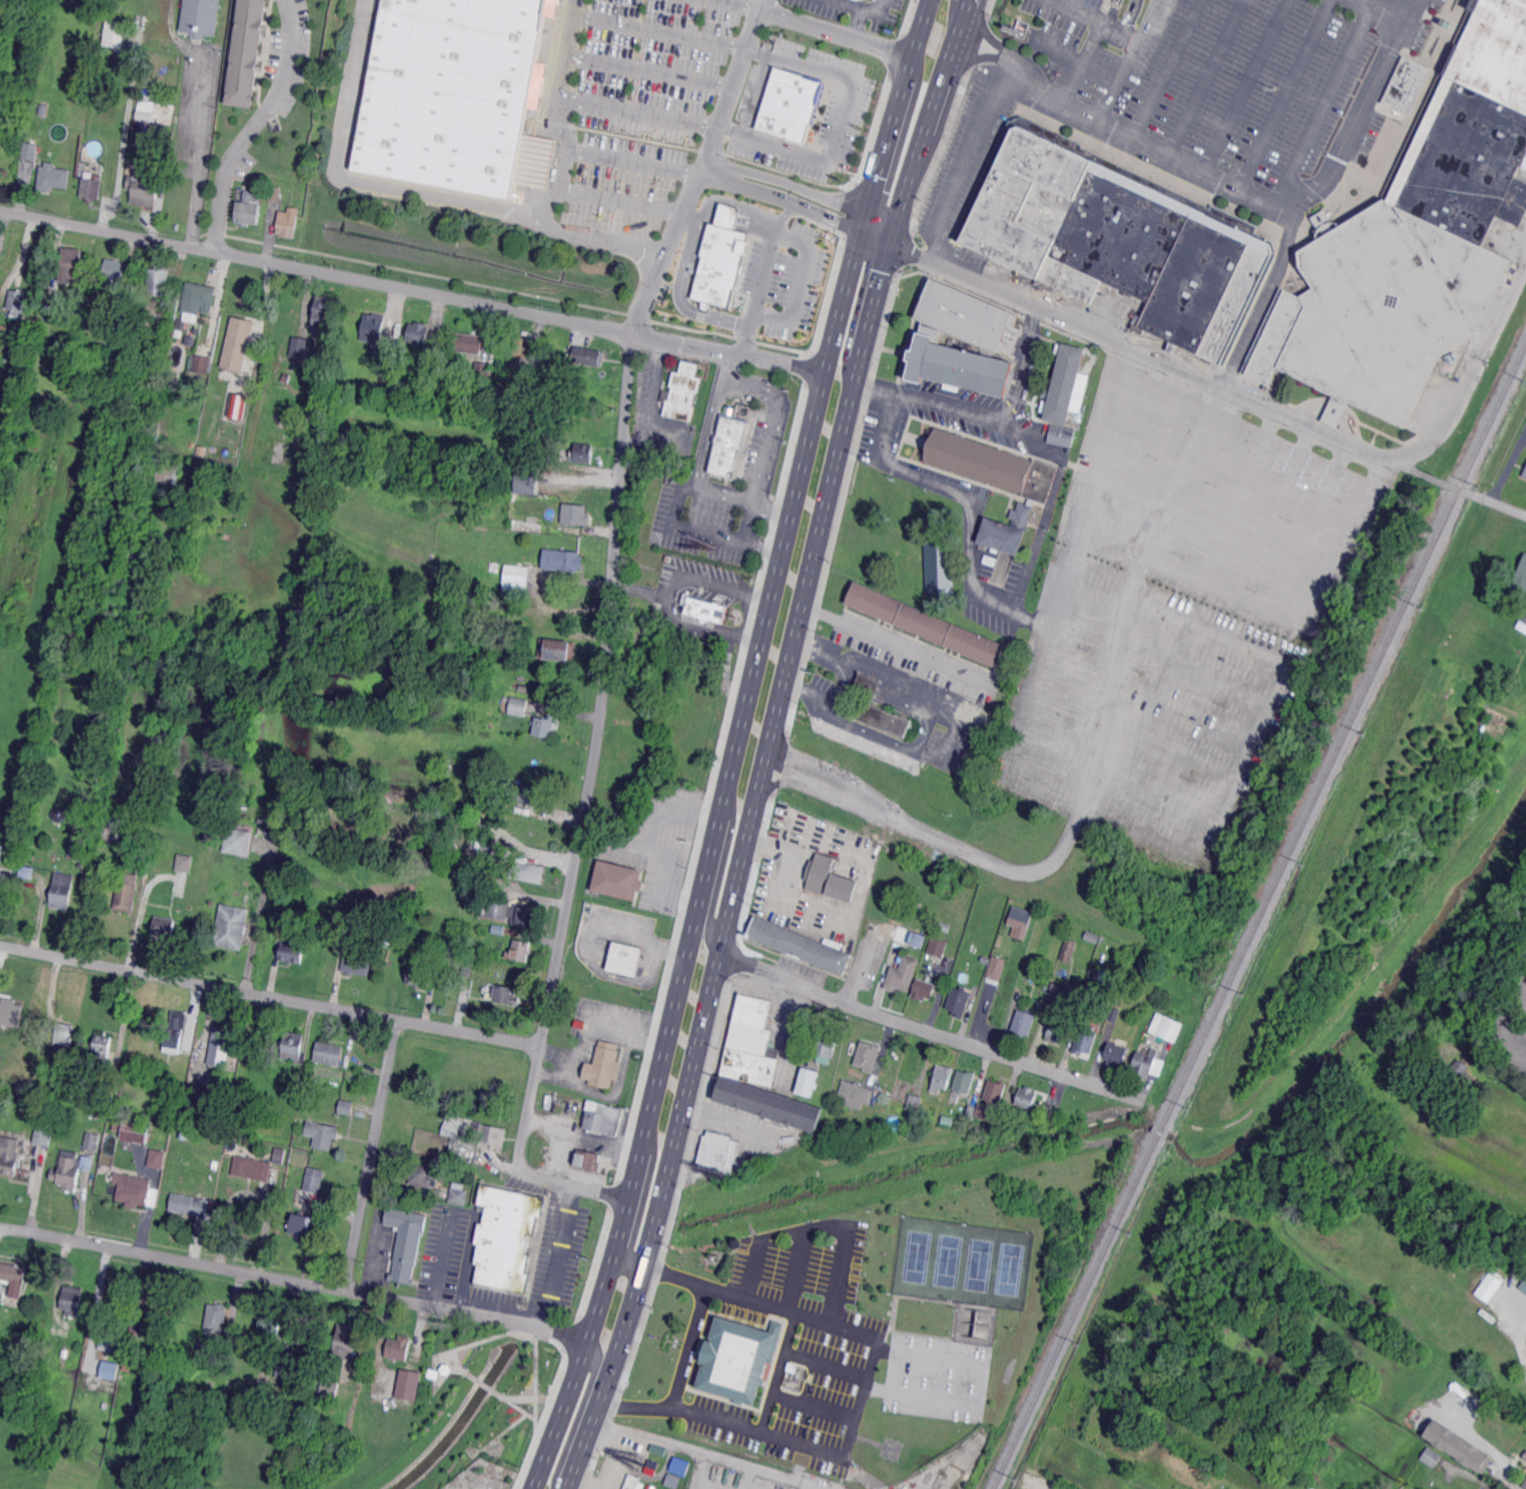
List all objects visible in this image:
road: (738, 4)
road: (761, 4)
road: (866, 9)
road: (1384, 10)
building: (200, 18)
road: (1131, 18)
road: (1092, 21)
road: (857, 23)
building: (1449, 25)
building: (1018, 27)
road: (660, 31)
building: (114, 35)
road: (1059, 49)
building: (245, 52)
road: (988, 58)
road: (1129, 60)
road: (1082, 64)
road: (1167, 69)
road: (649, 70)
road: (1207, 78)
building: (1406, 85)
road: (1245, 86)
road: (1283, 94)
building: (455, 96)
road: (727, 99)
road: (1323, 103)
building: (98, 104)
building: (790, 105)
building: (146, 110)
road: (638, 110)
building: (43, 111)
road: (841, 122)
road: (252, 124)
road: (923, 142)
road: (193, 150)
building: (31, 151)
road: (961, 158)
road: (632, 162)
building: (1524, 165)
road: (558, 175)
road: (874, 175)
building: (53, 177)
road: (351, 180)
building: (92, 188)
road: (803, 188)
building: (143, 191)
building: (274, 195)
road: (1257, 198)
road: (781, 199)
road: (620, 202)
building: (248, 209)
traffic signals: (864, 212)
road: (779, 214)
building: (287, 224)
traffic signals: (897, 226)
traffic signals: (860, 232)
building: (1118, 238)
building: (1415, 238)
traffic signals: (891, 245)
building: (720, 258)
building: (70, 265)
building: (113, 271)
road: (797, 279)
building: (157, 281)
road: (410, 290)
road: (757, 291)
road: (674, 295)
road: (1264, 297)
building: (197, 300)
building: (17, 304)
building: (324, 311)
building: (161, 312)
building: (33, 322)
building: (180, 325)
building: (373, 327)
building: (196, 331)
building: (421, 334)
building: (989, 336)
building: (469, 343)
building: (237, 344)
building: (522, 346)
building: (18, 348)
building: (300, 351)
building: (586, 356)
road: (723, 360)
building: (550, 363)
road: (1020, 363)
building: (202, 364)
building: (251, 366)
building: (1022, 368)
building: (386, 369)
road: (1470, 369)
building: (526, 371)
building: (483, 372)
road: (1193, 373)
building: (284, 378)
building: (518, 382)
road: (874, 382)
building: (1065, 385)
building: (185, 387)
building: (1020, 392)
building: (681, 393)
building: (245, 398)
building: (285, 399)
building: (3, 402)
road: (950, 404)
building: (33, 412)
railway: (1493, 413)
building: (9, 415)
road: (706, 426)
building: (1062, 434)
road: (1028, 435)
building: (275, 445)
building: (728, 445)
building: (581, 453)
building: (1, 457)
building: (540, 462)
building: (993, 465)
building: (165, 472)
building: (1525, 474)
road: (582, 479)
building: (527, 483)
railway: (1458, 488)
road: (742, 495)
road: (1237, 495)
road: (771, 502)
road: (1272, 509)
building: (574, 515)
building: (513, 523)
road: (1309, 526)
building: (549, 528)
road: (704, 528)
building: (1007, 531)
road: (969, 538)
building: (563, 560)
building: (938, 566)
building: (495, 567)
building: (515, 577)
building: (1519, 583)
building: (297, 587)
building: (707, 610)
parking lot: (1182, 614)
building: (927, 620)
road: (1308, 623)
building: (1522, 623)
road: (893, 642)
building: (557, 649)
building: (497, 653)
building: (508, 655)
building: (514, 706)
building: (877, 708)
building: (545, 726)
road: (728, 766)
road: (594, 767)
road: (1095, 773)
building: (529, 795)
building: (85, 825)
building: (259, 827)
building: (114, 828)
building: (77, 833)
building: (239, 841)
building: (78, 850)
building: (1, 852)
building: (185, 863)
building: (530, 871)
building: (830, 879)
building: (621, 881)
building: (42, 888)
building: (62, 889)
road: (733, 891)
building: (127, 892)
building: (514, 913)
building: (1021, 921)
building: (945, 925)
building: (232, 927)
building: (162, 929)
building: (499, 929)
building: (941, 934)
building: (1091, 936)
building: (918, 939)
building: (800, 945)
building: (939, 947)
building: (522, 950)
building: (1069, 950)
building: (292, 953)
building: (626, 959)
building: (357, 964)
building: (996, 967)
building: (468, 968)
building: (903, 974)
building: (418, 976)
building: (1022, 981)
railway: (1226, 990)
building: (924, 991)
building: (1056, 991)
building: (506, 995)
road: (270, 996)
building: (1088, 996)
building: (960, 1001)
building: (1114, 1014)
building: (4, 1015)
building: (1024, 1022)
building: (1170, 1028)
building: (1058, 1029)
road: (931, 1031)
building: (176, 1032)
building: (65, 1034)
building: (1086, 1040)
building: (1150, 1041)
building: (827, 1043)
building: (223, 1045)
building: (293, 1045)
building: (103, 1049)
building: (330, 1053)
building: (1116, 1054)
building: (1442, 1055)
building: (868, 1056)
building: (1145, 1063)
building: (605, 1065)
building: (760, 1070)
building: (1457, 1076)
building: (942, 1079)
building: (808, 1081)
building: (965, 1081)
road: (1507, 1082)
building: (166, 1084)
building: (995, 1091)
building: (856, 1094)
building: (884, 1097)
building: (1027, 1097)
building: (198, 1098)
building: (107, 1099)
building: (915, 1103)
building: (305, 1104)
building: (1048, 1105)
building: (347, 1107)
building: (971, 1112)
building: (986, 1112)
building: (604, 1117)
building: (115, 1124)
building: (451, 1124)
building: (67, 1126)
building: (135, 1130)
building: (322, 1134)
building: (492, 1134)
building: (43, 1135)
building: (183, 1135)
building: (93, 1141)
building: (454, 1143)
building: (162, 1146)
building: (720, 1152)
building: (9, 1154)
road: (370, 1154)
building: (280, 1155)
building: (156, 1159)
building: (590, 1160)
building: (251, 1168)
building: (70, 1170)
building: (425, 1175)
building: (315, 1180)
road: (585, 1188)
building: (133, 1191)
road: (251, 1191)
building: (459, 1196)
building: (189, 1203)
building: (300, 1224)
building: (507, 1237)
building: (406, 1241)
road: (556, 1255)
park: (917, 1256)
park: (947, 1261)
park: (979, 1264)
park: (1009, 1268)
building: (13, 1273)
road: (293, 1283)
building: (1487, 1285)
building: (1523, 1285)
road: (602, 1289)
building: (73, 1300)
building: (157, 1306)
building: (217, 1316)
building: (271, 1323)
building: (137, 1332)
building: (60, 1333)
building: (109, 1341)
building: (346, 1341)
building: (398, 1348)
building: (20, 1350)
building: (206, 1352)
building: (111, 1356)
building: (739, 1358)
road: (986, 1366)
building: (792, 1368)
building: (108, 1369)
building: (285, 1371)
building: (335, 1373)
building: (409, 1384)
building: (263, 1387)
building: (329, 1391)
road: (578, 1414)
road: (549, 1442)
road: (708, 1454)
building: (654, 1457)
building: (1432, 1457)
building: (1472, 1457)
road: (801, 1462)
building: (679, 1465)
building: (1525, 1475)
building: (671, 1479)
road: (1507, 1480)
building: (632, 1481)
building: (1524, 1484)
building: (1219, 1486)
building: (1310, 1488)
building: (1313, 1488)

